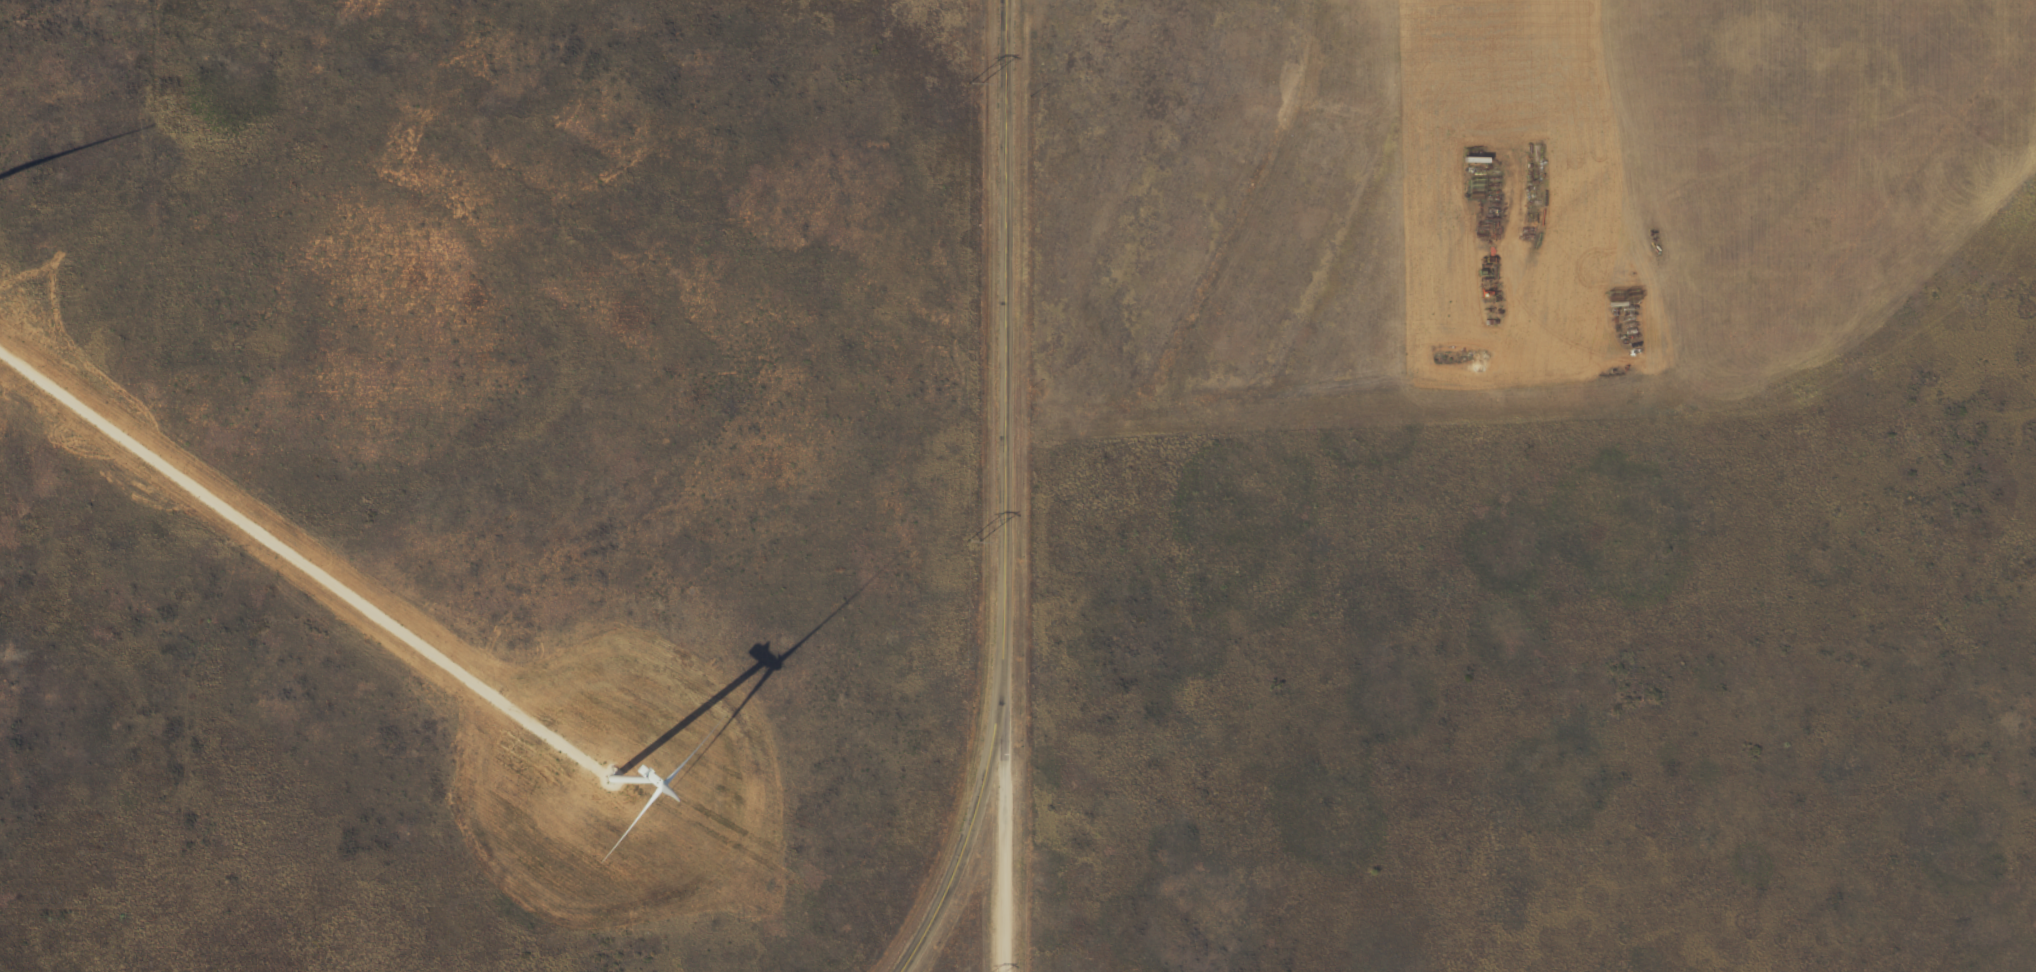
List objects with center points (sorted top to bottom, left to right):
power tower: (969, 80)
road: (1004, 495)
power tower: (969, 540)
wind turbine: (609, 781)
road: (1010, 830)

